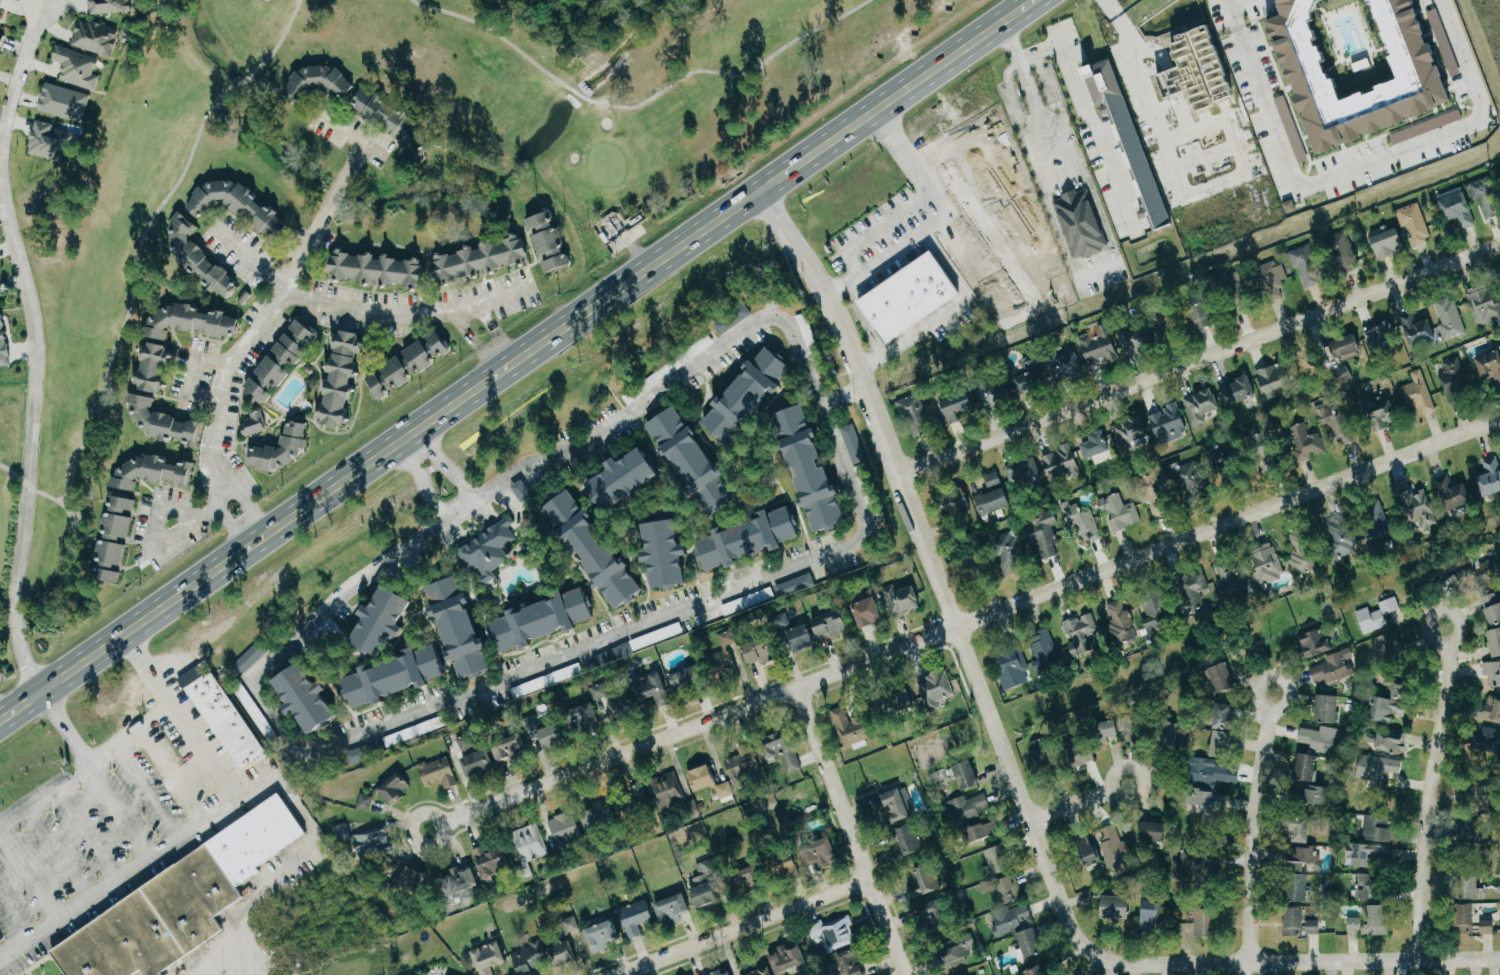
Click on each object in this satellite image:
building: (0, 1)
building: (109, 6)
building: (94, 38)
building: (1, 40)
building: (1449, 44)
building: (1302, 45)
building: (76, 67)
building: (316, 83)
road: (1144, 93)
road: (1030, 96)
building: (66, 102)
road: (1086, 103)
road: (639, 105)
building: (384, 115)
building: (1293, 129)
building: (1127, 140)
building: (52, 141)
road: (1353, 169)
building: (1485, 199)
building: (234, 205)
building: (1456, 210)
road: (939, 218)
building: (1079, 223)
building: (1412, 223)
road: (143, 234)
building: (547, 240)
building: (1387, 244)
building: (1342, 252)
building: (197, 258)
building: (479, 258)
building: (1305, 266)
building: (376, 268)
building: (1271, 280)
building: (1234, 293)
building: (905, 294)
building: (1, 301)
building: (1482, 304)
road: (356, 309)
building: (1199, 309)
road: (946, 310)
road: (277, 311)
building: (731, 318)
road: (862, 318)
building: (1448, 318)
building: (188, 321)
road: (494, 329)
building: (1416, 329)
building: (1147, 330)
building: (1379, 334)
building: (4, 339)
road: (473, 339)
building: (808, 339)
road: (34, 342)
building: (1096, 347)
building: (1346, 348)
road: (512, 358)
road: (1199, 360)
building: (280, 361)
building: (407, 364)
building: (1063, 365)
building: (1488, 365)
building: (152, 366)
building: (1342, 374)
building: (1028, 377)
building: (338, 378)
building: (1273, 379)
building: (1452, 379)
building: (1236, 390)
building: (990, 393)
building: (745, 394)
building: (1416, 394)
road: (841, 396)
building: (1199, 405)
building: (957, 407)
building: (1379, 412)
building: (914, 416)
building: (159, 421)
building: (1167, 421)
building: (251, 423)
building: (1341, 428)
building: (1129, 433)
building: (1304, 442)
building: (852, 443)
building: (1093, 445)
building: (281, 449)
building: (1263, 451)
building: (692, 460)
road: (446, 462)
building: (1058, 463)
building: (1227, 465)
building: (808, 467)
building: (1022, 472)
road: (13, 474)
building: (1489, 476)
building: (623, 477)
road: (420, 479)
building: (1189, 481)
building: (867, 490)
building: (1451, 494)
building: (991, 495)
building: (1154, 495)
road: (54, 500)
building: (953, 502)
building: (129, 506)
building: (1419, 509)
building: (1123, 510)
building: (1374, 516)
road: (202, 522)
building: (1080, 523)
building: (1041, 533)
building: (1339, 536)
building: (747, 537)
building: (592, 549)
building: (487, 550)
building: (664, 552)
building: (1008, 553)
building: (1300, 553)
building: (966, 565)
building: (1265, 565)
building: (1480, 574)
building: (1227, 582)
building: (795, 586)
road: (946, 589)
building: (1192, 589)
road: (719, 595)
building: (900, 600)
building: (746, 601)
building: (1491, 608)
building: (1151, 609)
building: (866, 612)
building: (1375, 615)
building: (1394, 617)
building: (540, 619)
building: (380, 620)
building: (784, 622)
building: (1119, 622)
road: (966, 623)
building: (829, 624)
building: (458, 627)
building: (1079, 633)
building: (800, 637)
building: (727, 638)
building: (1494, 641)
building: (1312, 644)
building: (1042, 646)
building: (1385, 647)
building: (759, 650)
building: (249, 657)
building: (721, 663)
building: (1010, 663)
building: (1332, 664)
building: (1491, 673)
building: (392, 675)
building: (1220, 677)
building: (685, 678)
building: (654, 685)
building: (1403, 687)
building: (935, 688)
building: (598, 691)
building: (305, 697)
building: (247, 698)
building: (896, 702)
building: (1325, 708)
building: (622, 709)
building: (1388, 709)
building: (1490, 710)
road: (2, 711)
building: (610, 713)
road: (177, 715)
building: (578, 716)
building: (222, 717)
building: (1223, 717)
building: (1134, 722)
building: (852, 727)
building: (1108, 728)
building: (1167, 733)
road: (130, 735)
building: (551, 735)
building: (1316, 738)
building: (1487, 741)
building: (465, 742)
building: (1389, 742)
building: (1220, 743)
building: (509, 749)
building: (783, 750)
building: (1080, 754)
building: (357, 755)
building: (1045, 758)
building: (476, 762)
building: (741, 762)
building: (1376, 766)
building: (1305, 767)
road: (82, 770)
building: (437, 772)
building: (1205, 772)
building: (963, 775)
building: (701, 777)
building: (393, 787)
building: (723, 790)
building: (1479, 792)
building: (669, 793)
building: (1315, 794)
road: (1440, 794)
building: (1206, 798)
building: (630, 800)
building: (366, 801)
road: (1084, 804)
building: (895, 805)
building: (967, 807)
building: (598, 815)
building: (1468, 826)
building: (563, 827)
building: (1297, 828)
building: (1377, 828)
road: (857, 830)
building: (343, 831)
building: (981, 831)
building: (1157, 832)
road: (1253, 835)
building: (904, 838)
building: (527, 842)
building: (370, 844)
building: (1111, 849)
building: (1464, 850)
building: (1086, 851)
building: (818, 852)
building: (1365, 854)
building: (1298, 857)
building: (997, 859)
building: (490, 861)
building: (783, 866)
building: (1194, 866)
road: (136, 867)
road: (286, 870)
building: (745, 879)
building: (923, 880)
building: (409, 881)
building: (460, 881)
building: (1368, 885)
building: (1466, 885)
building: (1295, 887)
building: (1007, 889)
building: (703, 895)
building: (173, 903)
building: (1113, 906)
building: (670, 909)
building: (1149, 915)
building: (634, 917)
building: (933, 917)
building: (1380, 919)
building: (1469, 920)
road: (14, 922)
building: (1205, 922)
building: (1298, 922)
building: (1355, 924)
building: (568, 925)
road: (749, 927)
building: (1016, 928)
building: (833, 934)
building: (602, 936)
building: (957, 949)
building: (562, 953)
building: (528, 957)
building: (487, 958)
road: (1323, 960)
building: (788, 961)
building: (851, 963)
building: (760, 972)
building: (716, 973)
building: (731, 974)

